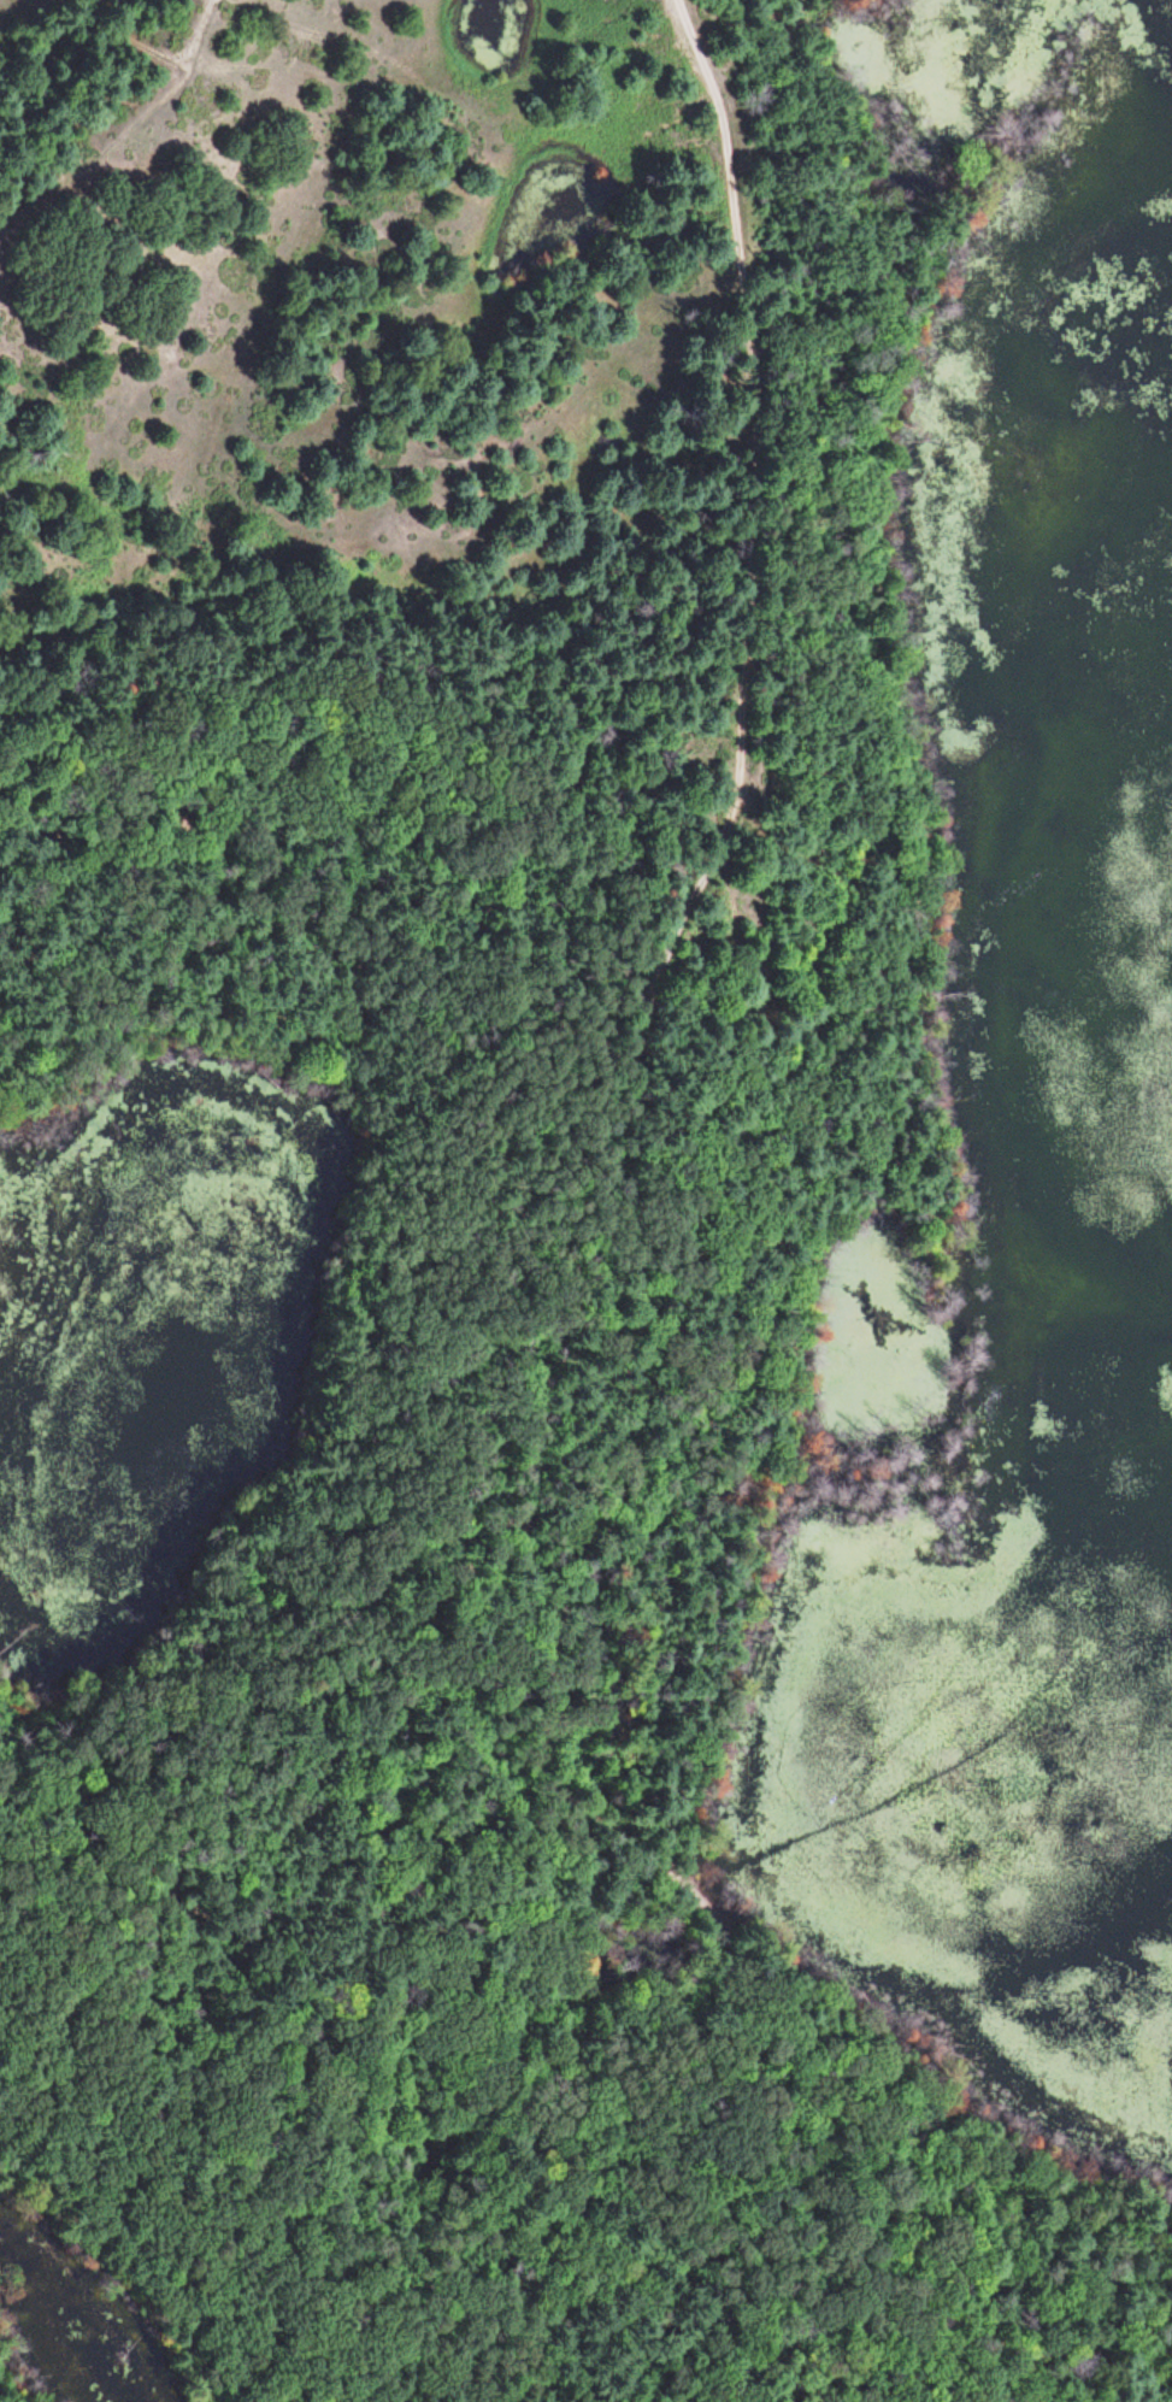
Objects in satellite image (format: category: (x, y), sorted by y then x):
road: (629, 1260)

